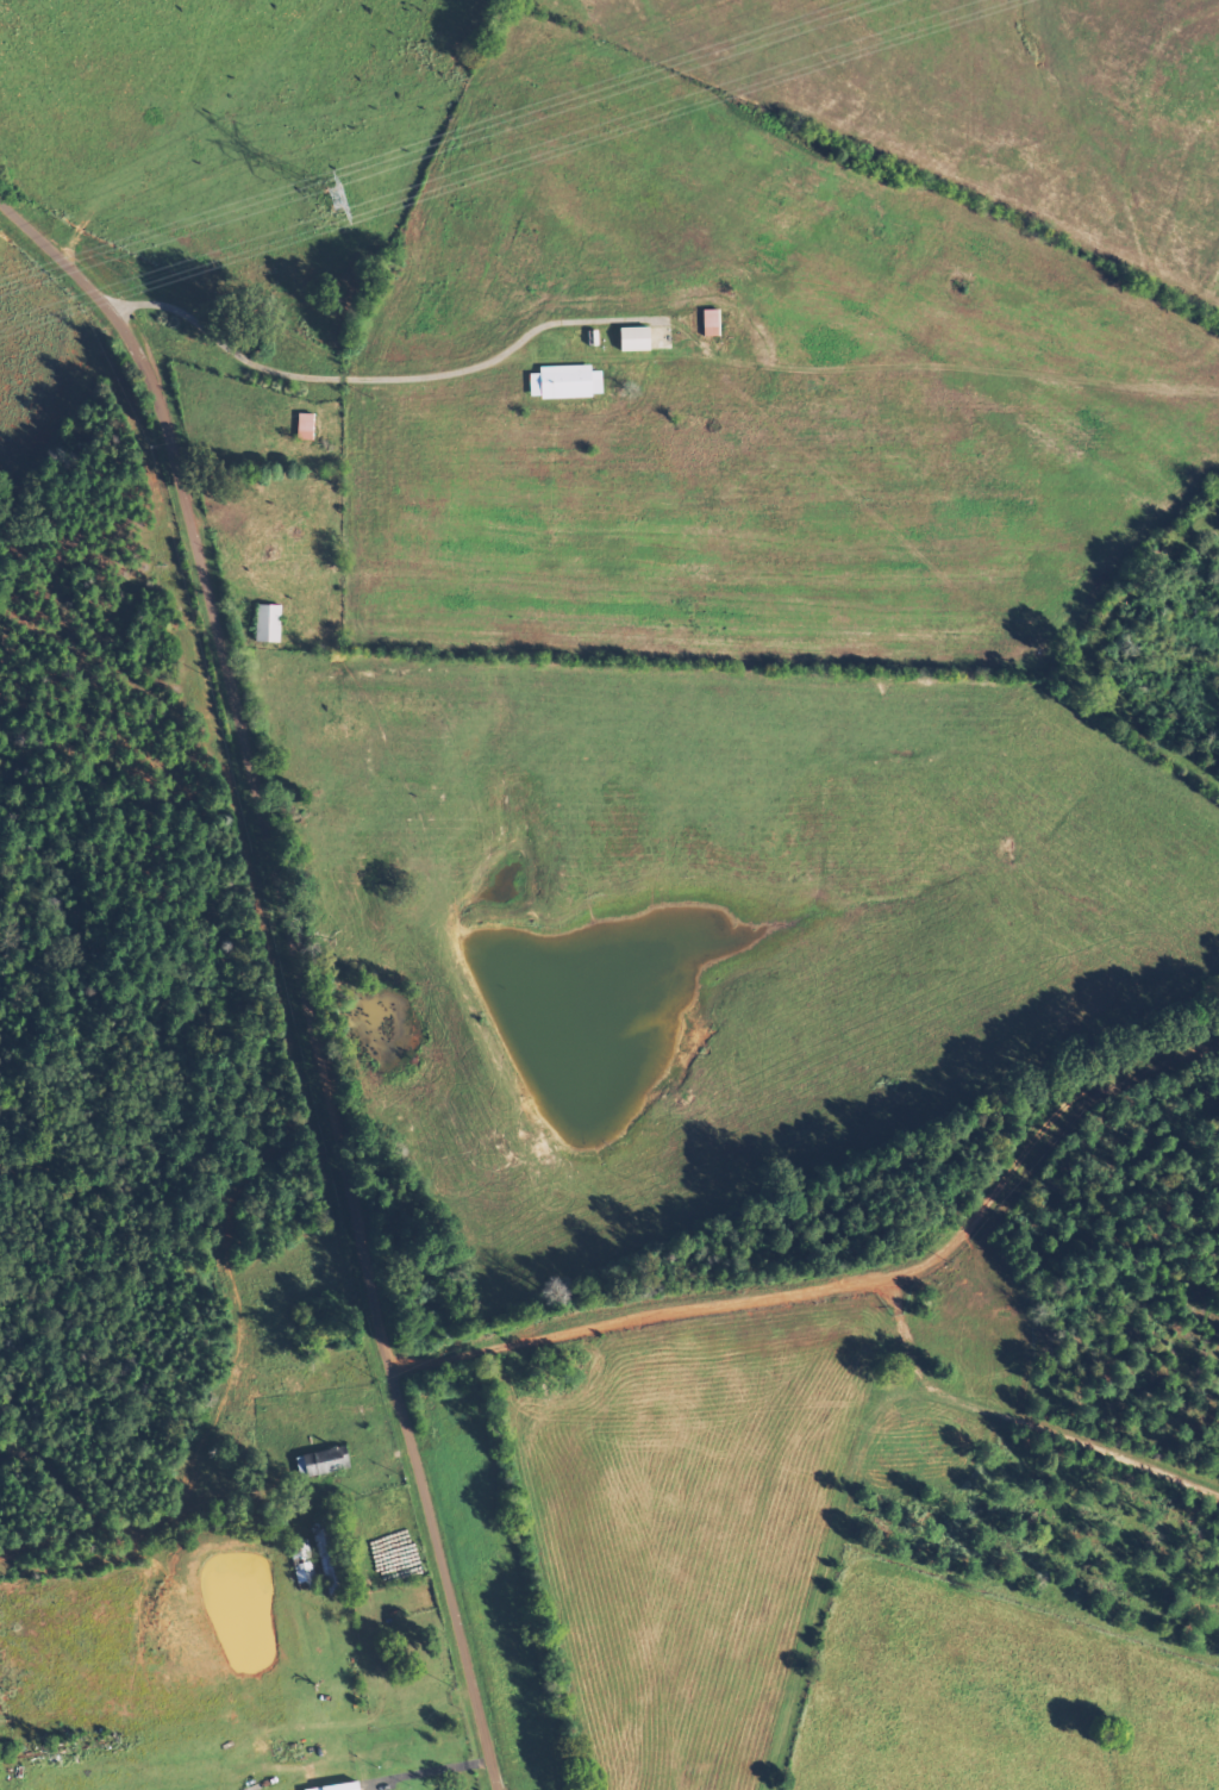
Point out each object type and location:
power tower: (337, 200)
building: (638, 338)
building: (570, 382)
building: (308, 426)
building: (273, 623)
road: (271, 1000)
road: (460, 1050)
road: (664, 1240)
park: (1042, 1342)
building: (326, 1464)
road: (819, 1522)
road: (1212, 1782)
building: (343, 1786)

